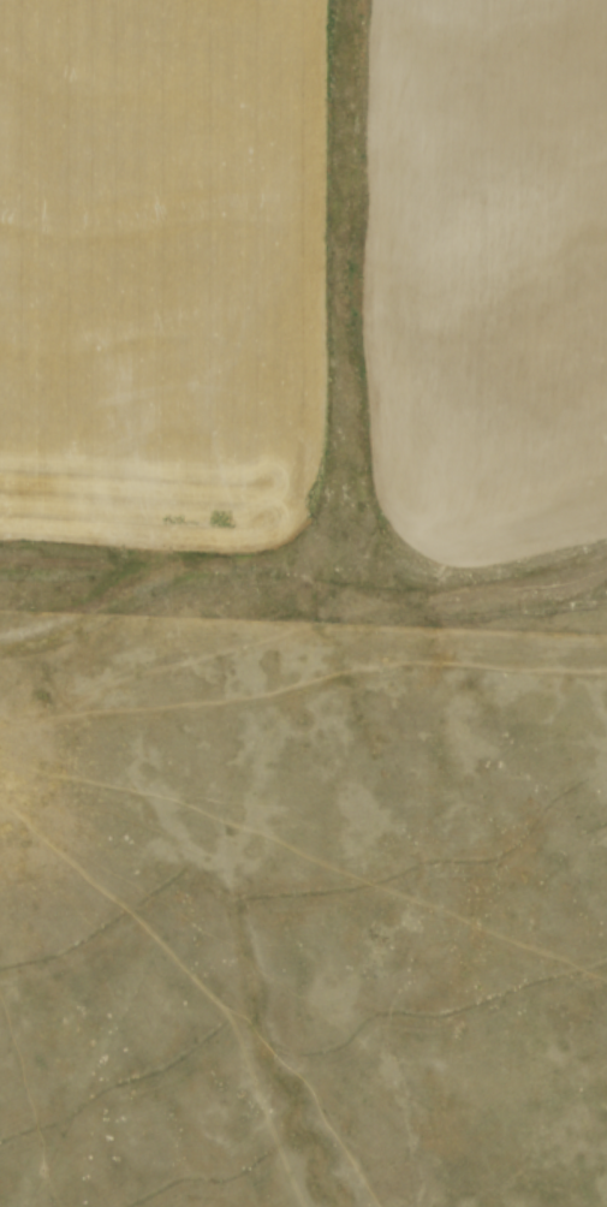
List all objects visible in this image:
crop: (161, 269)
crop: (483, 274)

